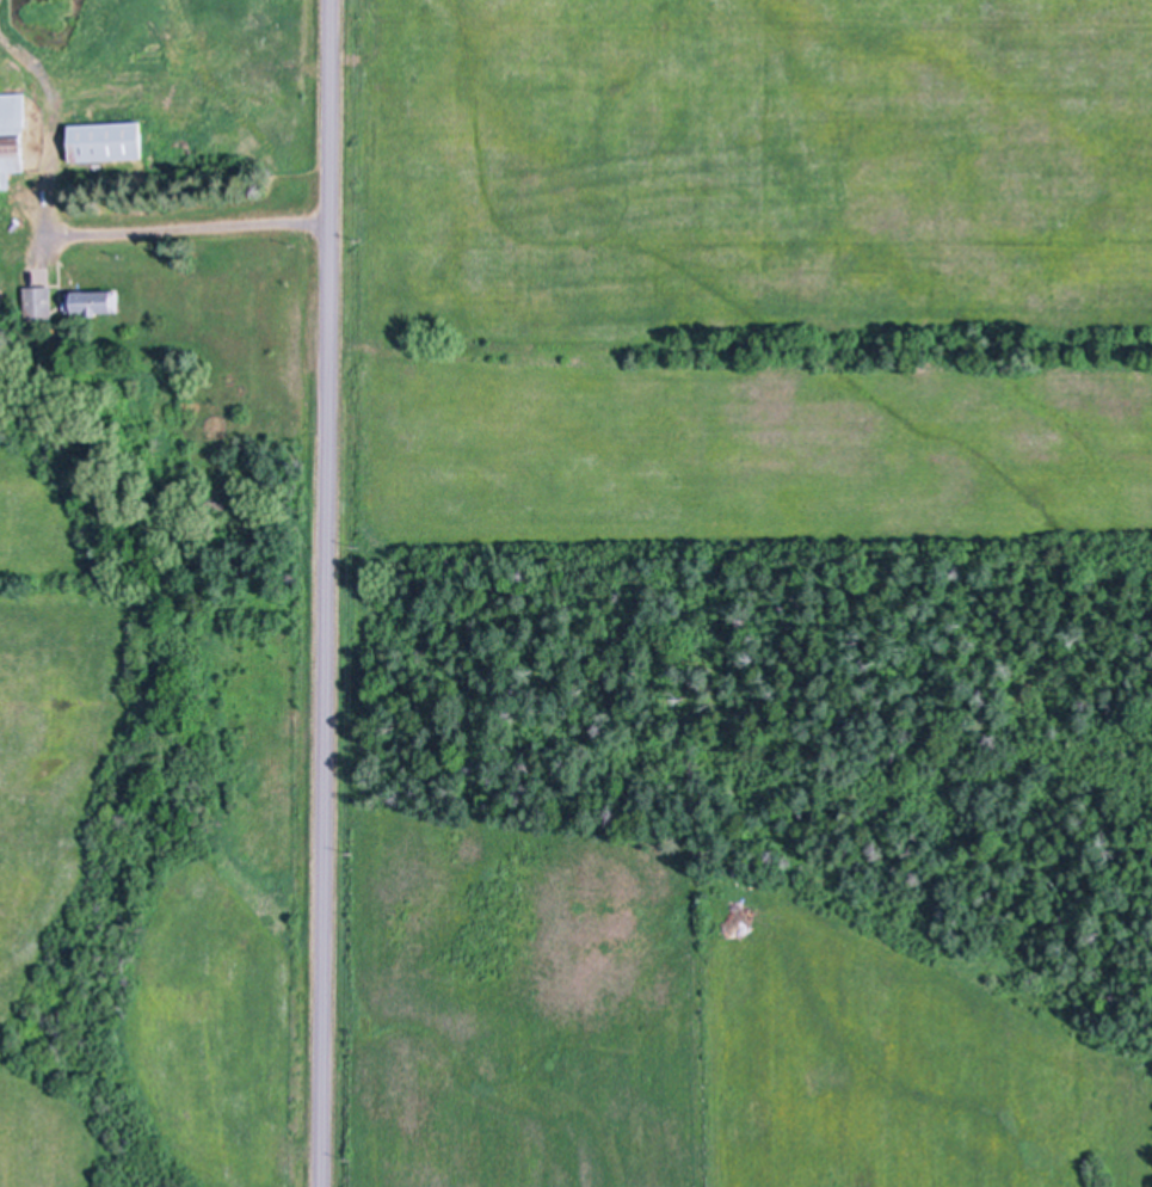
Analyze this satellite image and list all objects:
building: (12, 136)
building: (105, 142)
road: (189, 232)
building: (93, 302)
building: (41, 303)
road: (326, 593)

